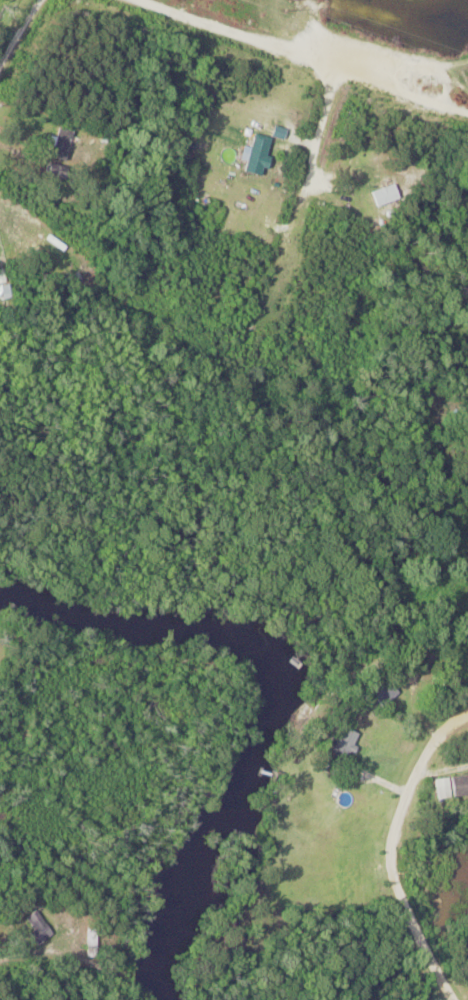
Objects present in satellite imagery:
power tower: (289, 4)
road: (17, 29)
road: (300, 58)
building: (60, 144)
building: (257, 154)
road: (301, 182)
building: (384, 194)
building: (382, 688)
building: (337, 744)
building: (451, 786)
road: (389, 848)
building: (36, 927)

